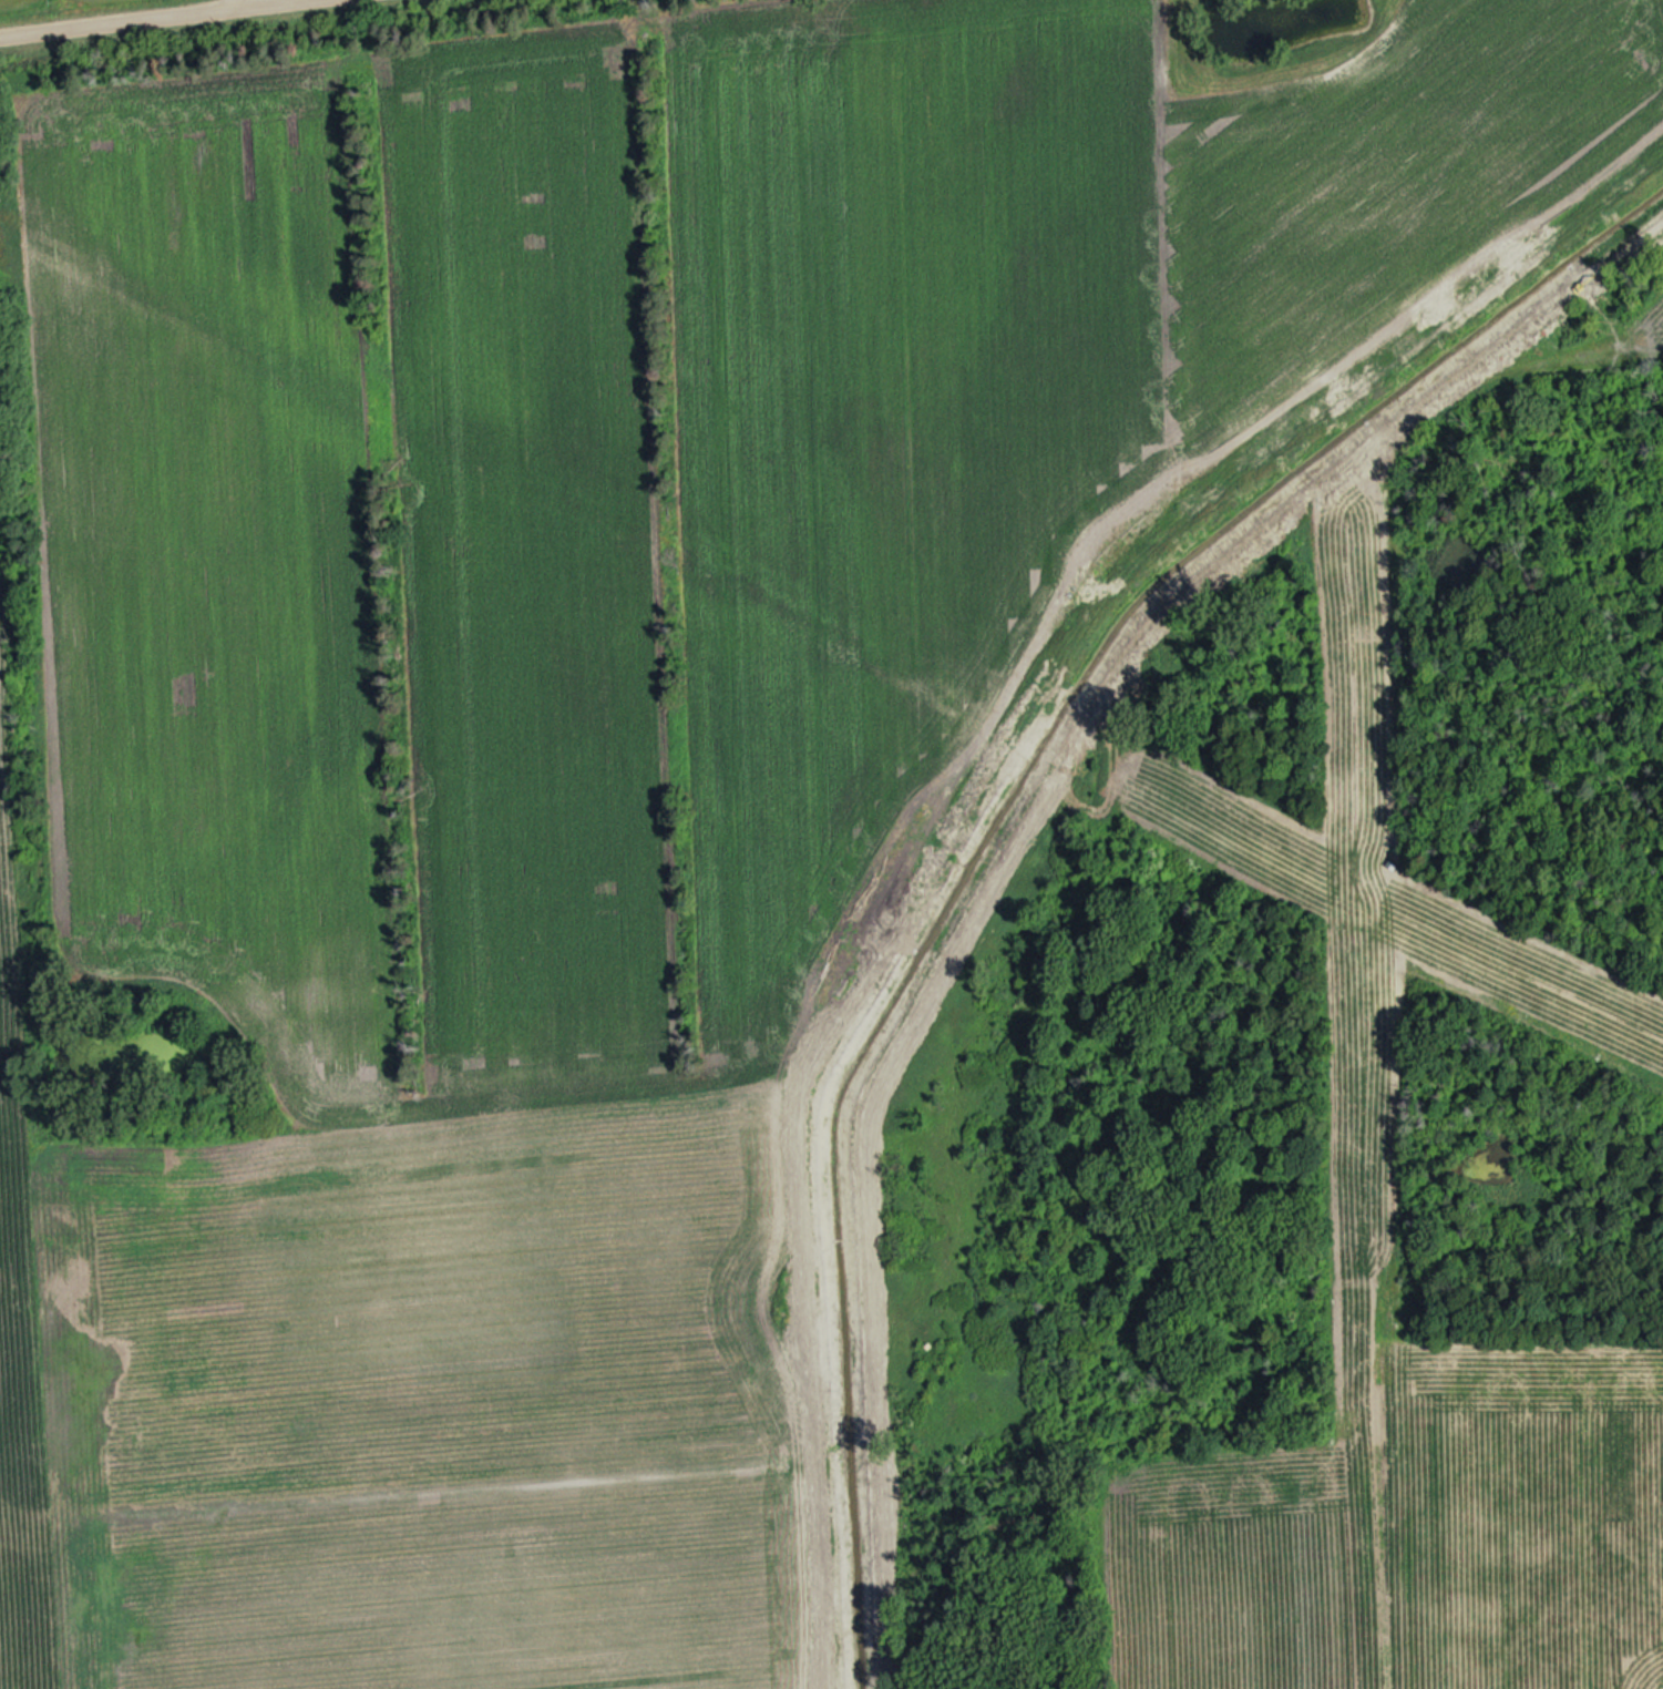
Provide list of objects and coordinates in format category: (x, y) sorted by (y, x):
road: (234, 6)
road: (165, 20)

